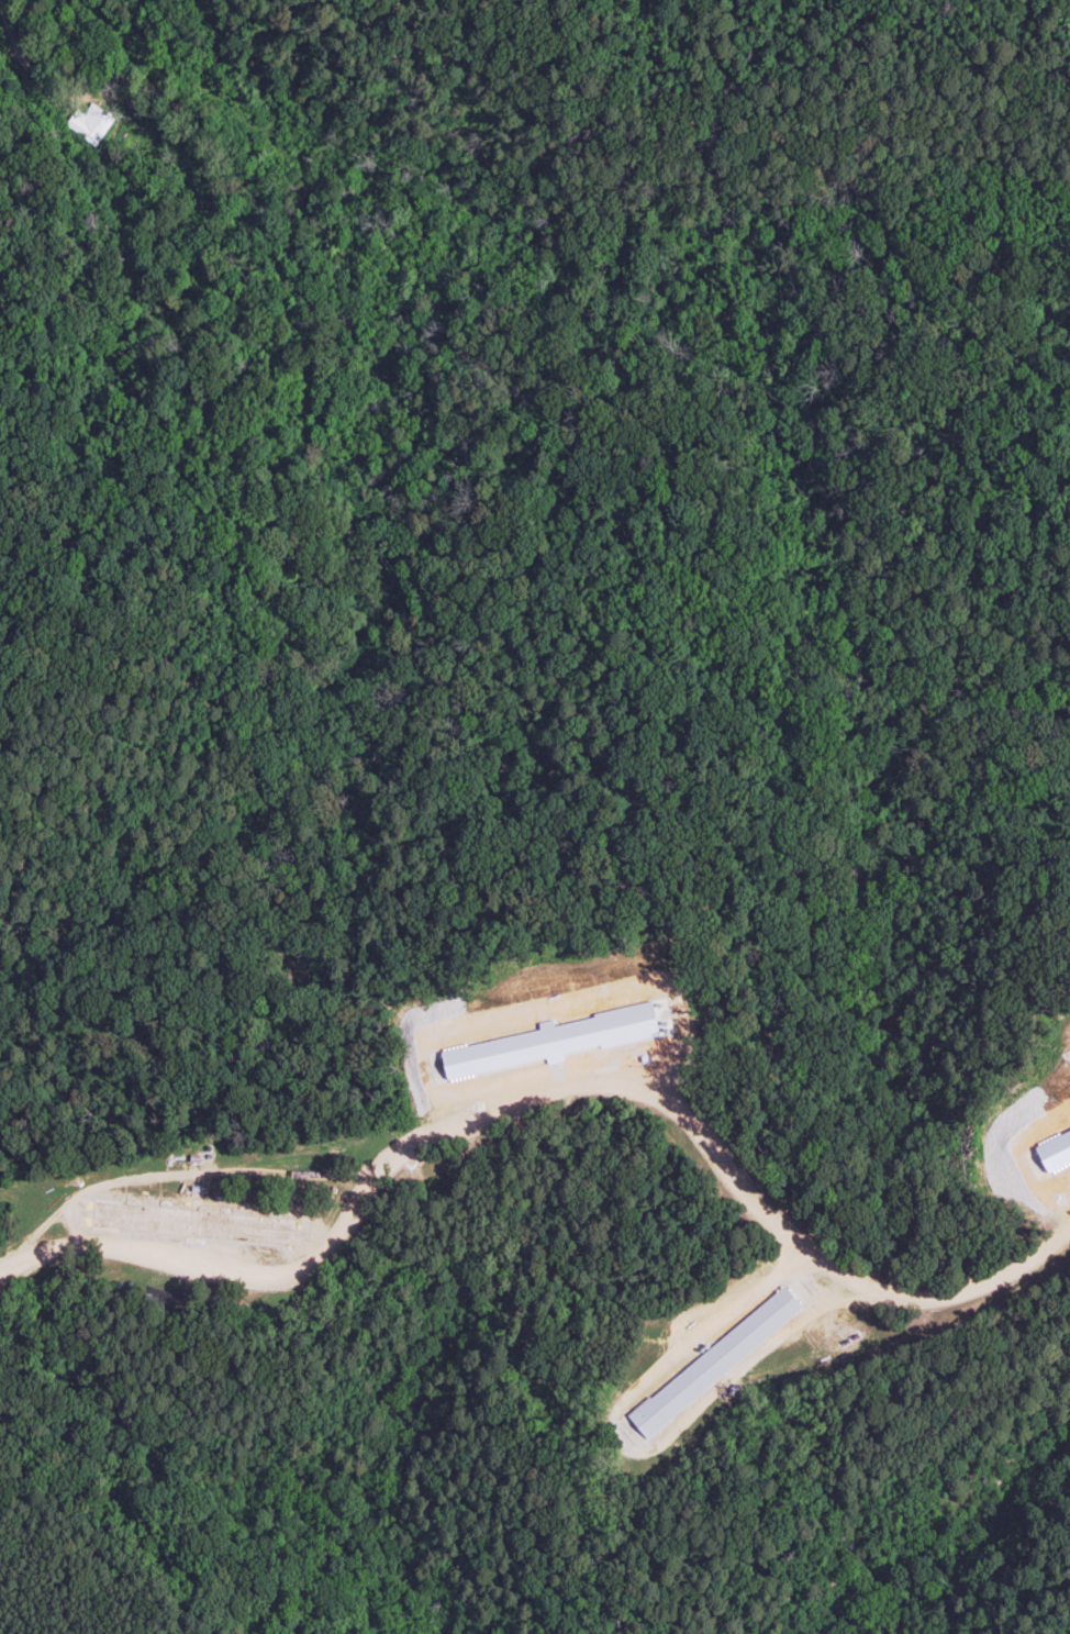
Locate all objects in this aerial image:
road: (23, 55)
building: (551, 1041)
road: (557, 1086)
building: (1055, 1149)
building: (192, 1222)
building: (715, 1361)

